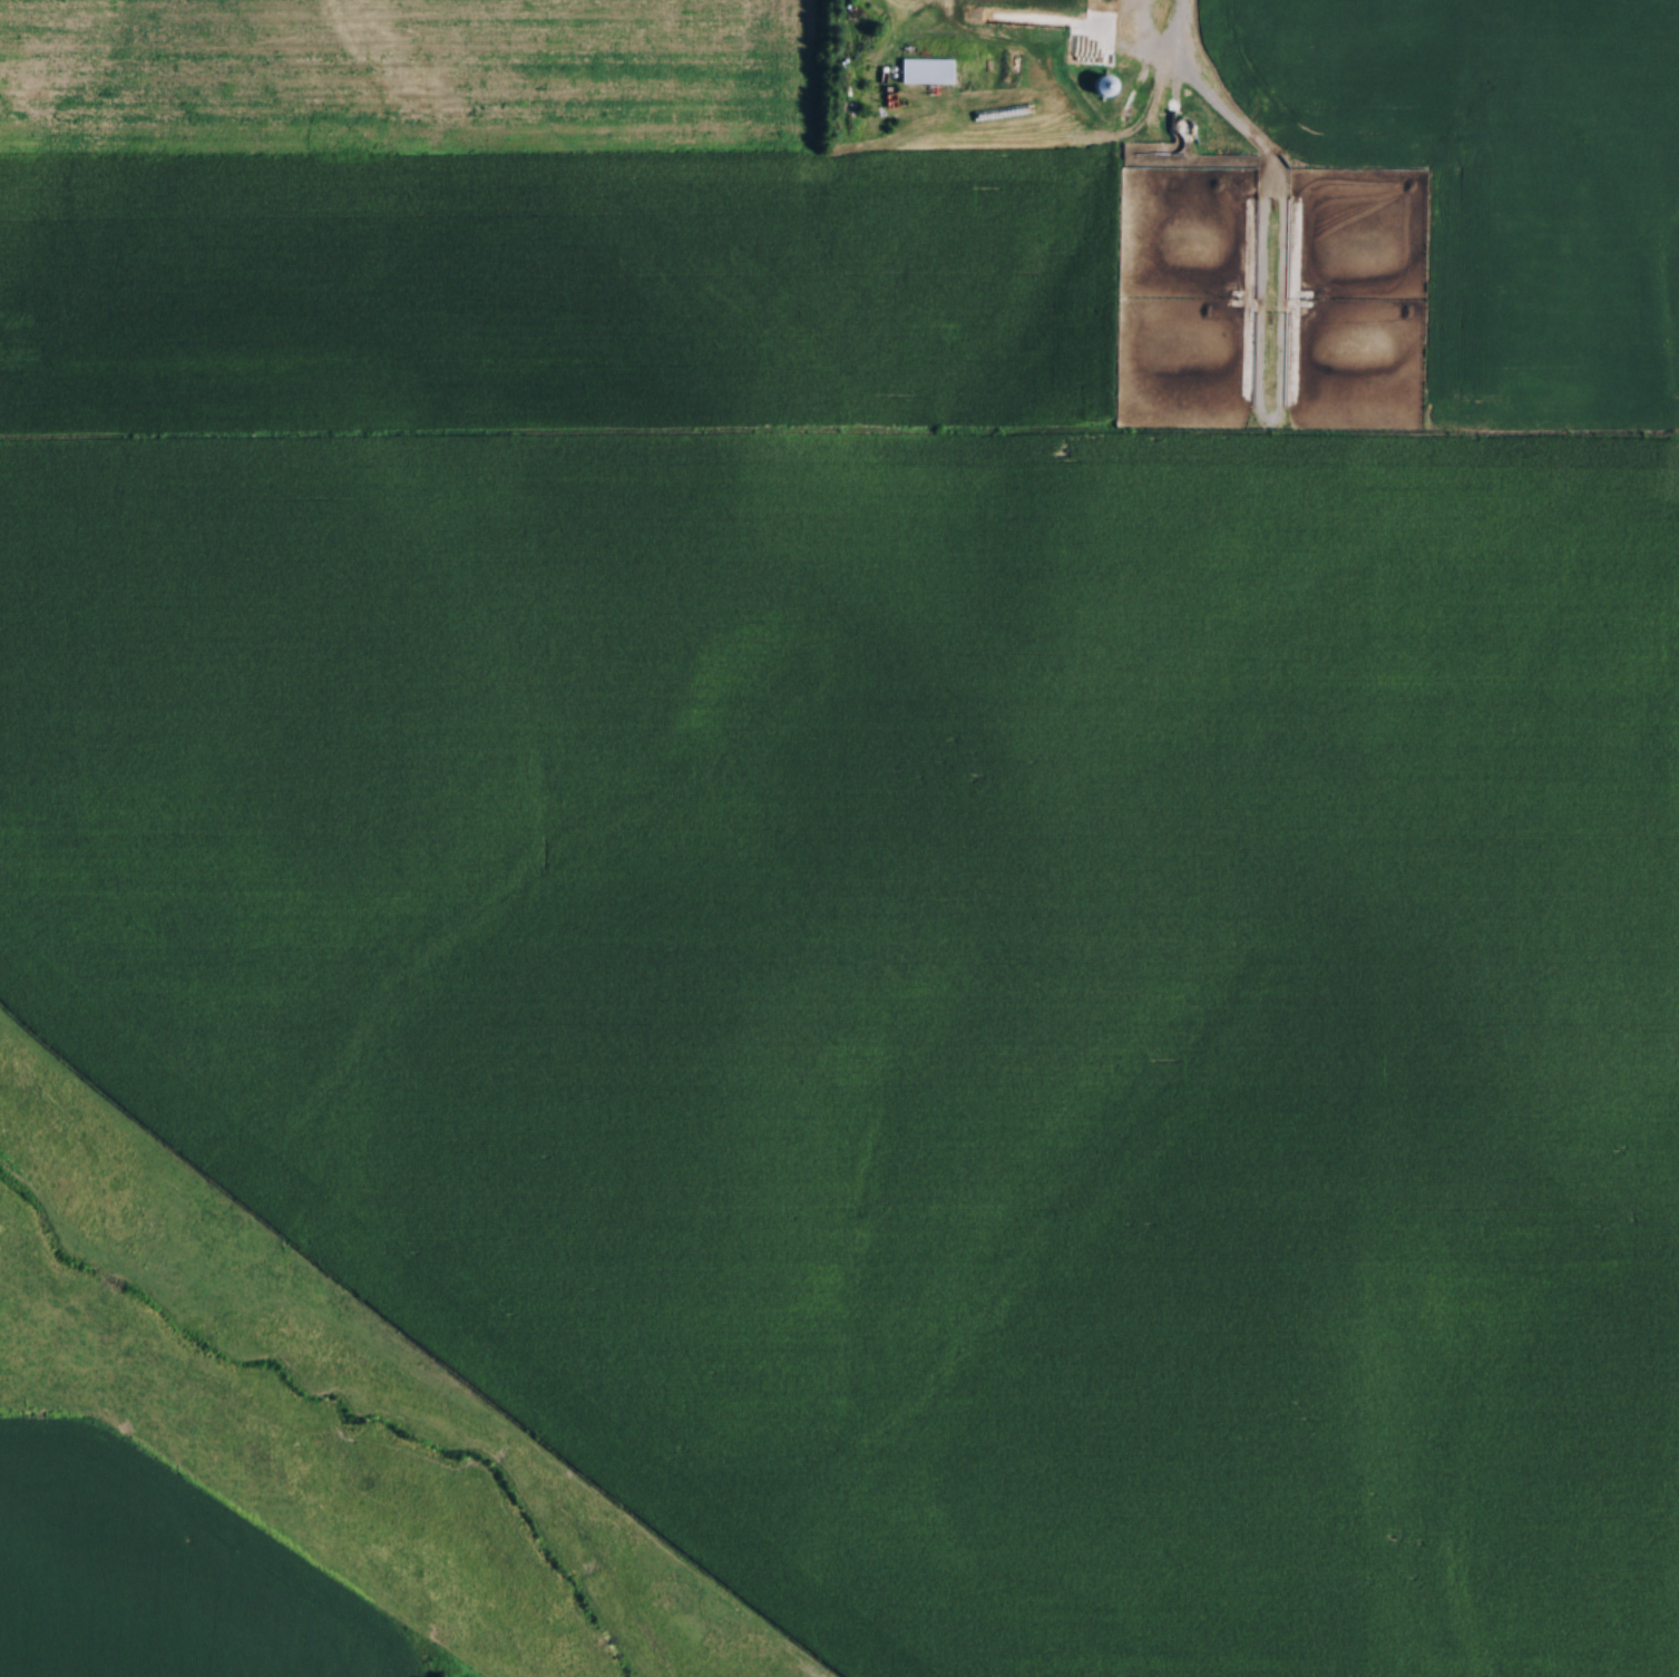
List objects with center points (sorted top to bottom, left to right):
building: (926, 71)

